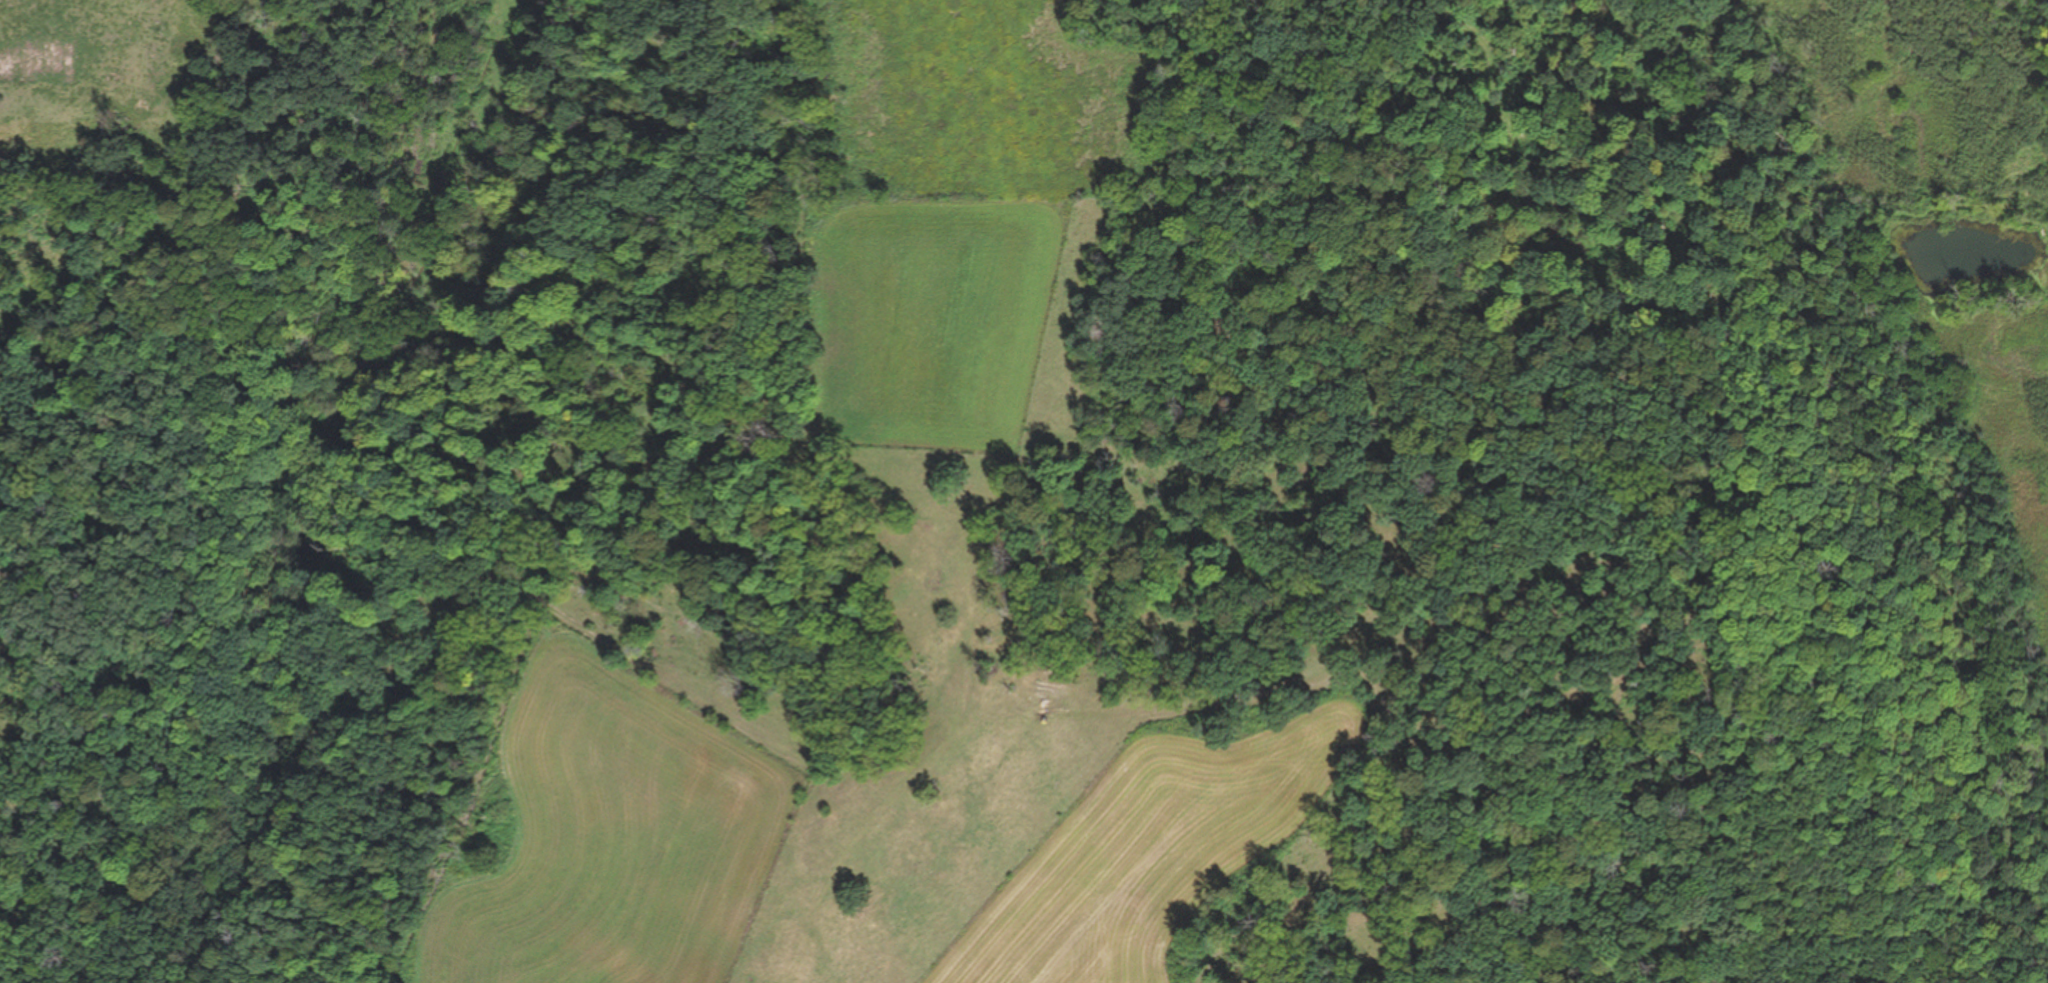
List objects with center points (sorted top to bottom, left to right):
quarry: (2036, 16)

